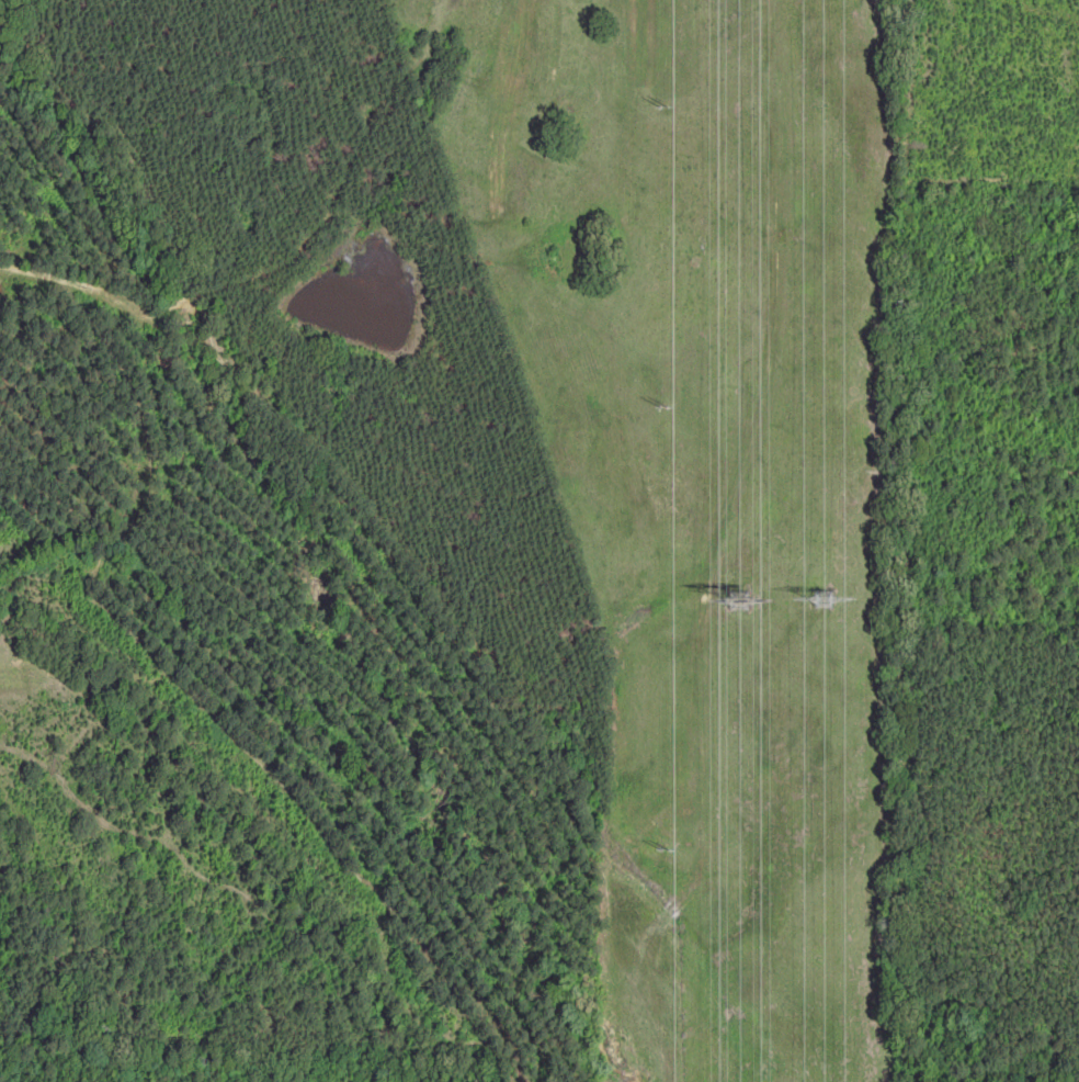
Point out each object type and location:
power tower: (724, 593)
power tower: (820, 595)

